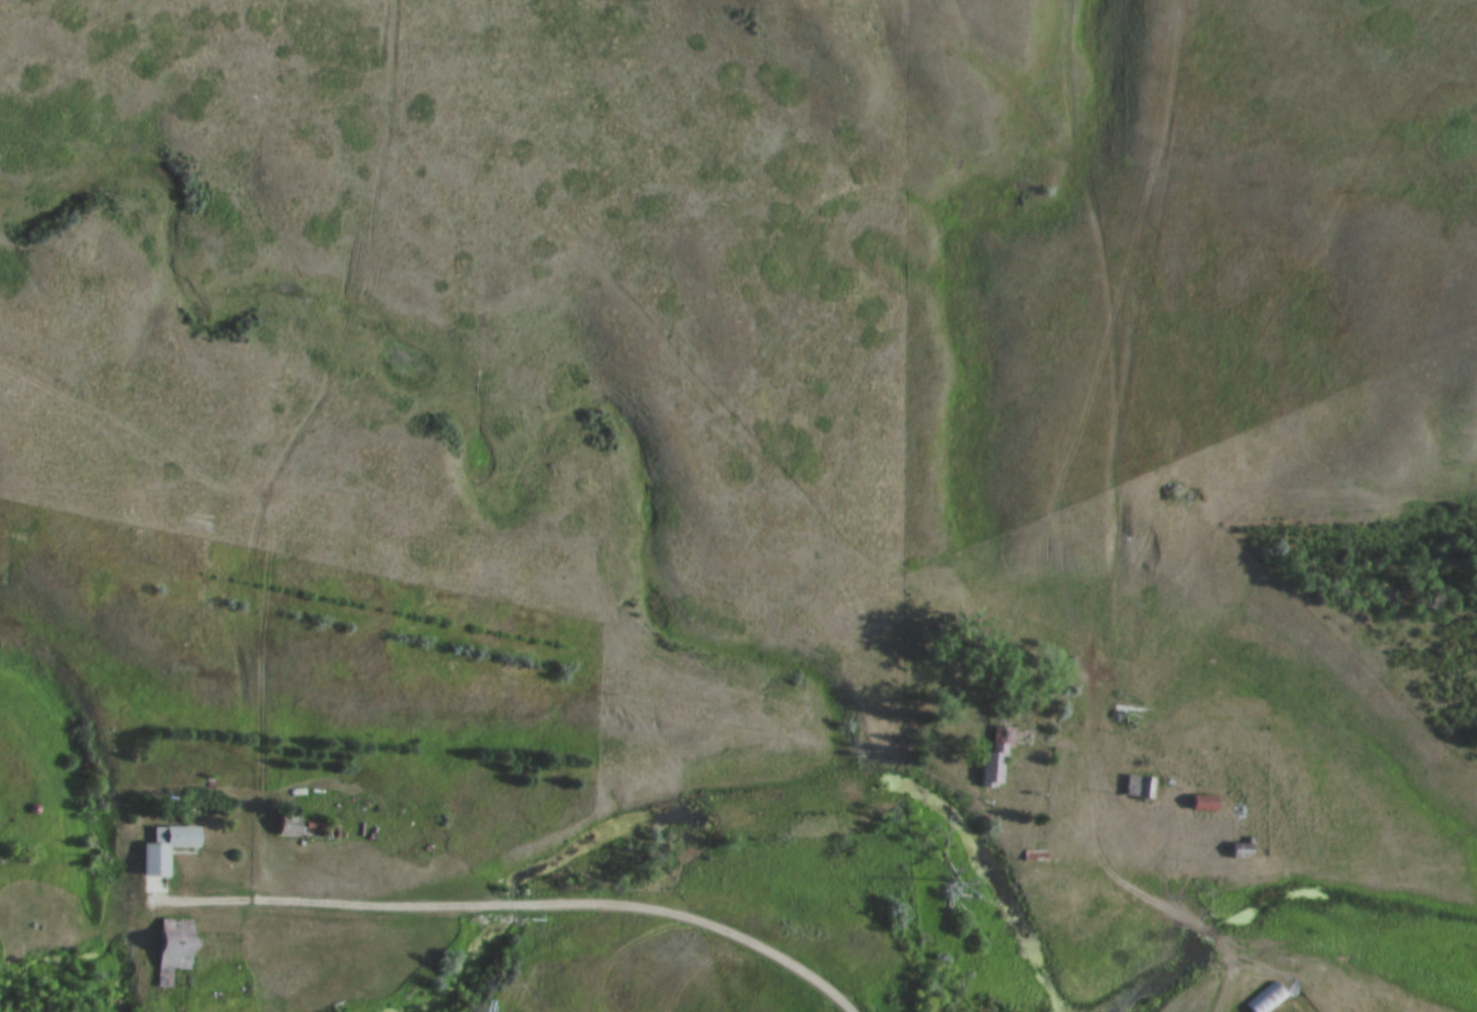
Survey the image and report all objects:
building: (993, 757)
building: (1139, 786)
building: (1202, 802)
building: (290, 825)
building: (168, 848)
road: (515, 906)
road: (1167, 910)
building: (172, 950)
building: (1267, 1000)

